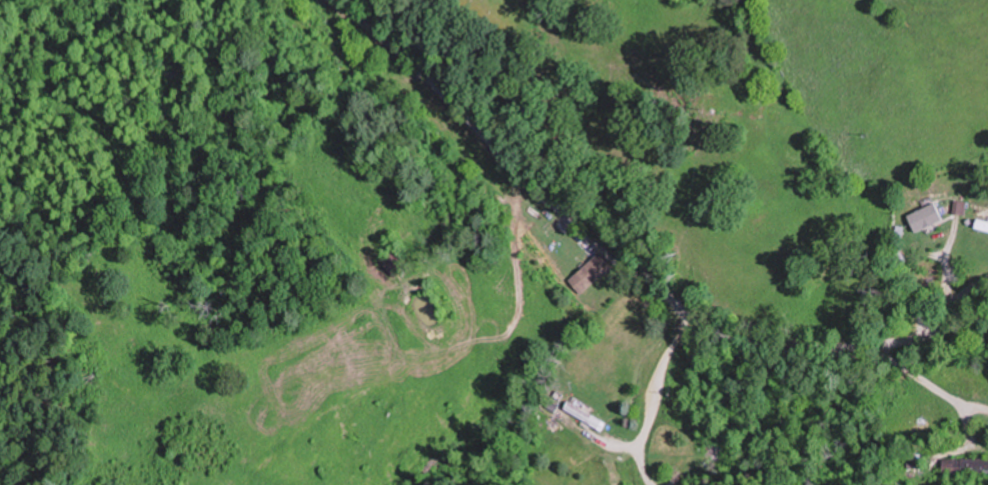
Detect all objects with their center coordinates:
building: (960, 207)
building: (928, 215)
building: (982, 225)
road: (630, 253)
building: (395, 263)
building: (590, 272)
building: (965, 466)

